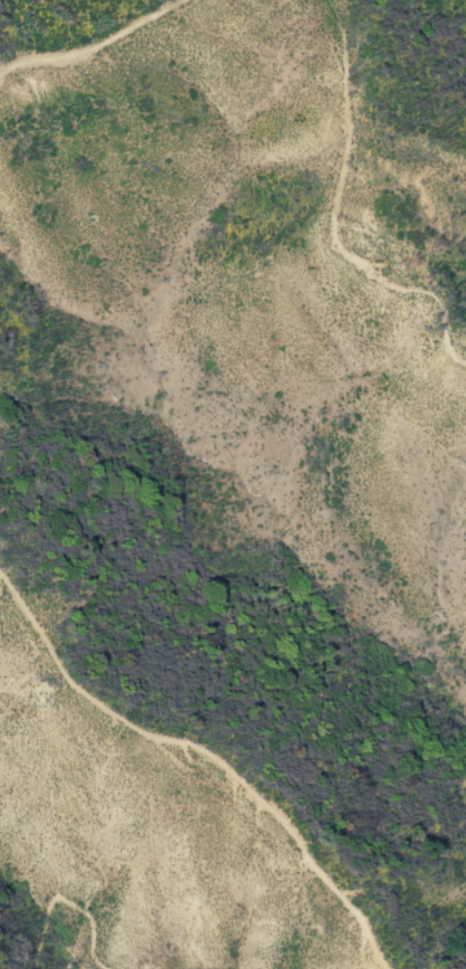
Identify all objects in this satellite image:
road: (93, 48)
road: (330, 219)
road: (206, 754)
road: (68, 904)

